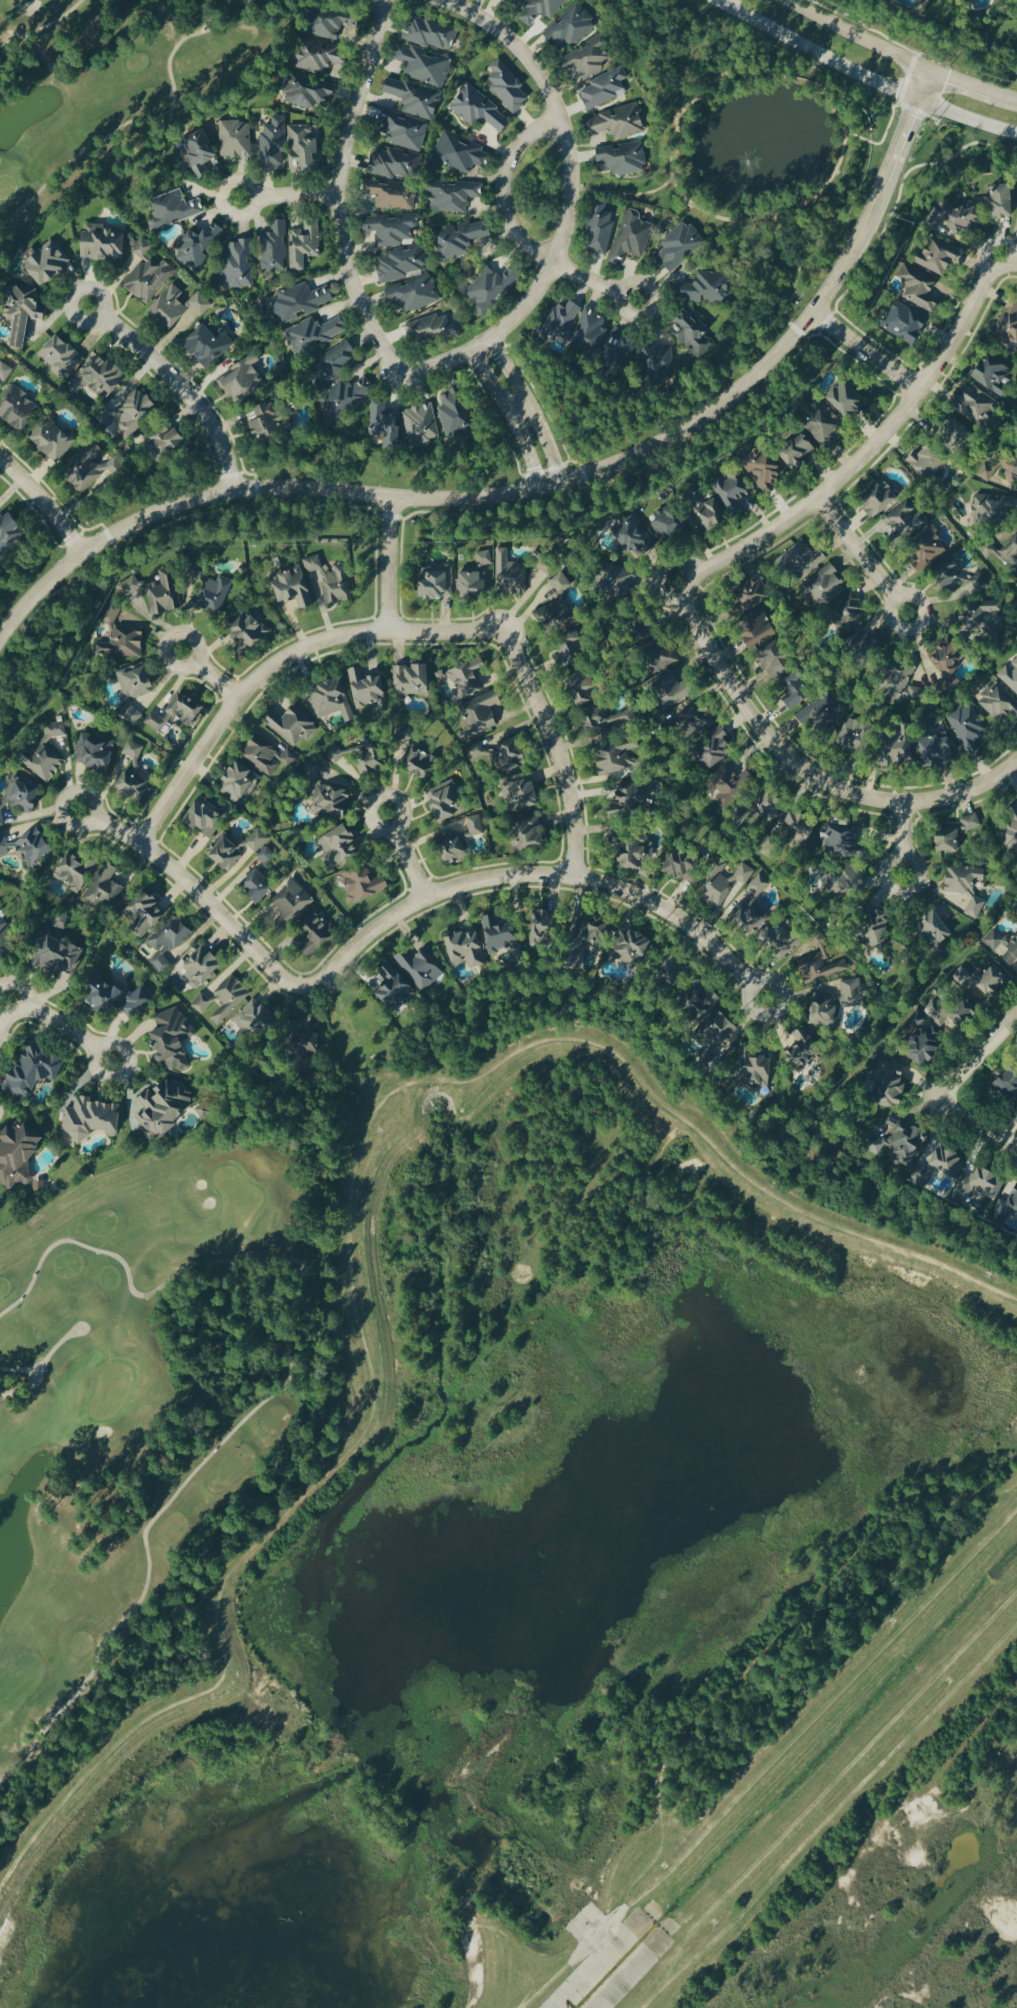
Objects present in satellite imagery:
building: (521, 1)
road: (709, 2)
road: (714, 2)
building: (540, 9)
building: (328, 21)
building: (571, 26)
road: (44, 27)
building: (432, 32)
road: (859, 36)
building: (321, 55)
road: (812, 55)
building: (591, 57)
building: (425, 64)
traffic signals: (928, 72)
road: (960, 82)
building: (508, 85)
road: (922, 86)
building: (605, 87)
park: (112, 89)
building: (308, 90)
road: (1004, 95)
building: (415, 97)
road: (832, 100)
traffic signals: (916, 101)
building: (480, 109)
road: (966, 119)
building: (620, 121)
road: (140, 123)
building: (404, 129)
building: (236, 138)
building: (274, 142)
building: (304, 148)
building: (197, 152)
building: (460, 152)
building: (623, 158)
building: (394, 163)
road: (625, 188)
building: (392, 194)
building: (454, 194)
road: (336, 195)
road: (287, 197)
road: (570, 200)
building: (174, 208)
building: (958, 216)
building: (600, 227)
road: (514, 232)
building: (632, 236)
building: (461, 237)
building: (103, 241)
building: (305, 243)
building: (681, 244)
building: (397, 245)
building: (200, 246)
building: (275, 246)
building: (939, 256)
road: (1007, 260)
building: (47, 261)
building: (239, 262)
building: (147, 273)
road: (795, 285)
building: (707, 286)
building: (919, 286)
building: (492, 287)
building: (414, 293)
building: (300, 301)
building: (178, 305)
building: (24, 311)
building: (561, 317)
building: (904, 323)
building: (1008, 324)
building: (432, 328)
building: (591, 329)
building: (692, 331)
building: (315, 333)
building: (209, 342)
building: (620, 350)
road: (866, 353)
building: (61, 356)
building: (659, 358)
building: (334, 363)
building: (994, 373)
building: (244, 379)
road: (178, 386)
building: (348, 395)
building: (846, 397)
building: (974, 404)
building: (17, 407)
road: (530, 409)
building: (456, 412)
building: (134, 413)
road: (511, 417)
building: (267, 421)
building: (385, 421)
building: (823, 421)
building: (421, 423)
building: (960, 432)
building: (53, 439)
building: (166, 442)
building: (799, 450)
road: (868, 452)
building: (928, 461)
building: (87, 467)
building: (1011, 467)
building: (765, 468)
building: (987, 472)
building: (732, 488)
road: (528, 492)
building: (880, 498)
road: (45, 503)
building: (993, 507)
building: (709, 515)
road: (393, 517)
building: (906, 520)
building: (669, 521)
building: (10, 530)
building: (632, 533)
building: (926, 549)
building: (1010, 552)
road: (861, 558)
road: (388, 565)
building: (815, 568)
building: (519, 574)
building: (478, 578)
building: (963, 578)
building: (333, 580)
building: (437, 583)
building: (293, 584)
building: (166, 593)
building: (560, 606)
building: (759, 613)
building: (249, 635)
building: (126, 645)
building: (575, 649)
building: (952, 657)
building: (776, 659)
road: (279, 662)
road: (210, 674)
building: (470, 677)
building: (1010, 677)
building: (412, 681)
building: (368, 689)
building: (800, 689)
building: (332, 701)
building: (998, 706)
building: (188, 710)
building: (485, 710)
building: (159, 723)
building: (839, 724)
building: (293, 726)
building: (970, 728)
building: (610, 730)
building: (56, 731)
road: (556, 749)
building: (900, 752)
building: (100, 753)
building: (268, 758)
building: (44, 764)
building: (515, 764)
building: (424, 768)
road: (803, 772)
building: (135, 775)
building: (240, 783)
building: (24, 794)
building: (635, 800)
building: (448, 804)
building: (335, 806)
building: (207, 816)
building: (957, 832)
building: (1008, 834)
building: (461, 841)
road: (904, 841)
building: (343, 845)
building: (35, 848)
building: (237, 850)
road: (406, 856)
building: (635, 856)
building: (269, 860)
building: (684, 867)
road: (546, 875)
building: (92, 882)
building: (761, 884)
building: (364, 885)
building: (260, 886)
building: (728, 886)
building: (967, 887)
road: (202, 898)
building: (291, 904)
building: (143, 914)
building: (1016, 914)
building: (752, 917)
building: (937, 929)
building: (316, 935)
building: (501, 935)
building: (169, 936)
building: (784, 936)
building: (8, 941)
building: (883, 941)
building: (1003, 947)
building: (467, 951)
building: (59, 958)
building: (201, 968)
building: (410, 978)
road: (20, 990)
building: (853, 994)
building: (222, 1001)
building: (828, 1011)
building: (956, 1013)
building: (253, 1021)
road: (57, 1023)
building: (174, 1039)
building: (927, 1048)
building: (805, 1049)
road: (975, 1060)
building: (36, 1070)
building: (165, 1108)
building: (205, 1111)
building: (91, 1120)
road: (975, 1127)
building: (904, 1143)
building: (18, 1156)
building: (943, 1165)
building: (991, 1185)
building: (1014, 1205)
road: (350, 1209)
park: (249, 1325)
road: (40, 1368)
road: (19, 1372)
road: (282, 1392)
park: (135, 1409)
road: (819, 1694)
road: (772, 1762)
road: (820, 1793)
road: (840, 1803)
road: (469, 1919)

